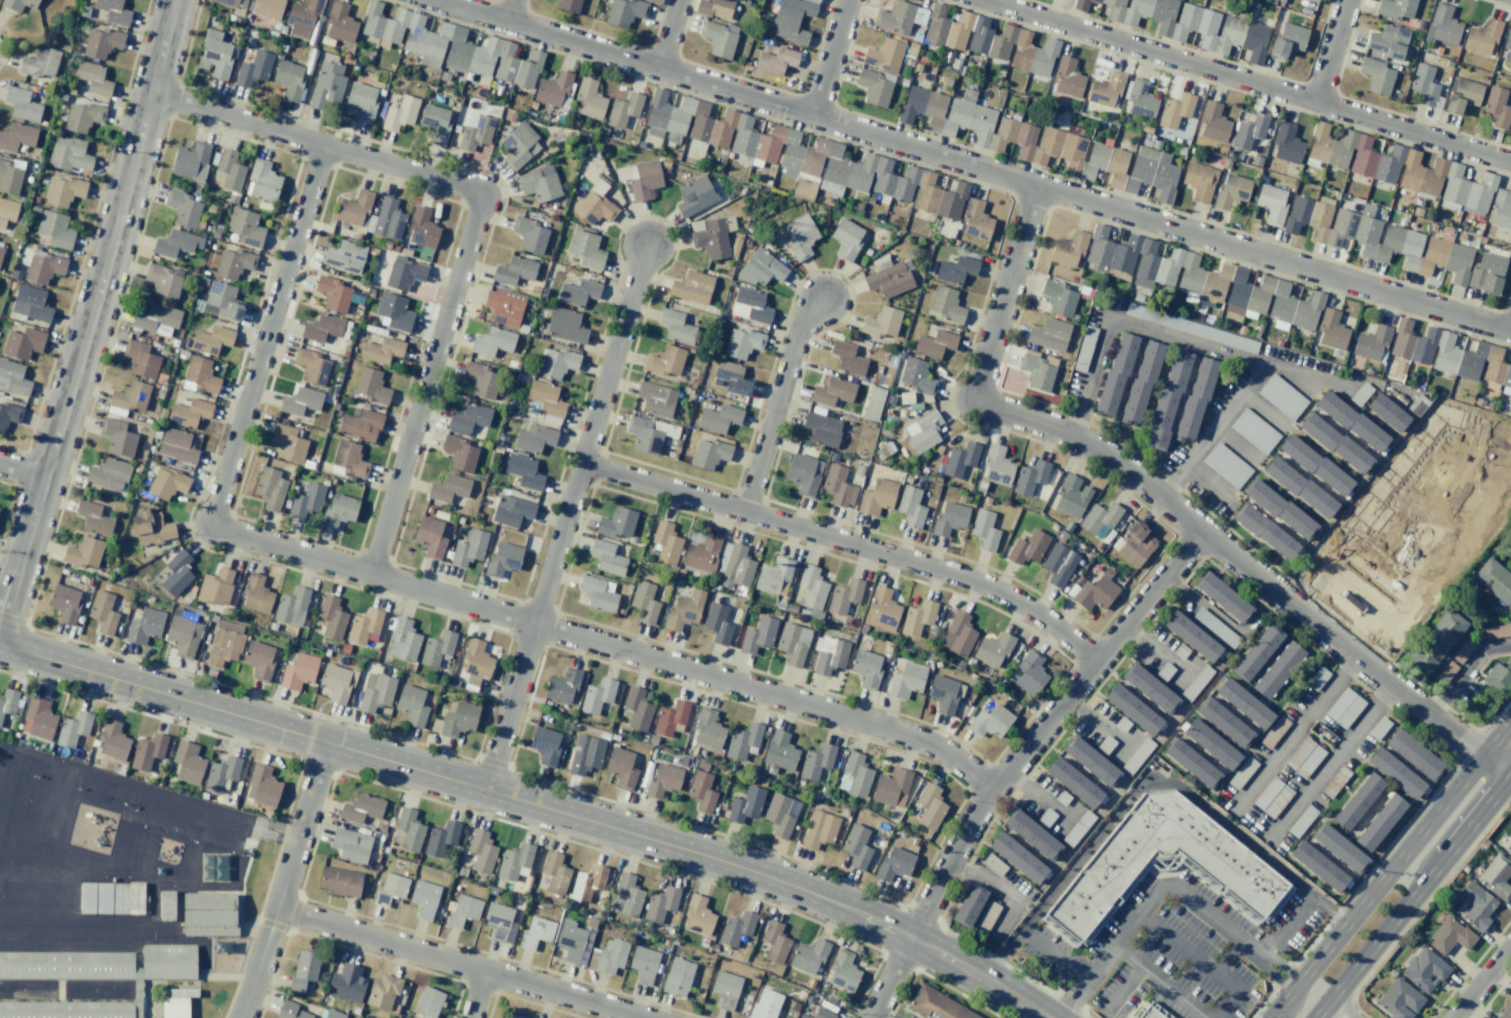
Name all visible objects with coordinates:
building: (656, 0)
building: (1313, 0)
building: (230, 3)
building: (18, 4)
building: (568, 5)
building: (267, 8)
building: (715, 8)
building: (1396, 8)
building: (113, 11)
road: (510, 11)
building: (624, 12)
building: (302, 17)
building: (899, 17)
building: (792, 19)
building: (371, 20)
building: (340, 23)
building: (1189, 24)
building: (1442, 25)
building: (414, 34)
road: (670, 35)
building: (1482, 36)
building: (718, 38)
building: (990, 40)
building: (1287, 40)
building: (1387, 42)
building: (101, 43)
building: (1507, 45)
building: (458, 49)
road: (1333, 52)
building: (214, 55)
building: (884, 55)
road: (832, 59)
building: (776, 61)
building: (40, 62)
building: (505, 62)
building: (253, 69)
building: (1376, 75)
building: (93, 78)
building: (1067, 78)
road: (1244, 82)
building: (1424, 84)
building: (327, 85)
building: (873, 87)
building: (554, 89)
building: (1105, 89)
building: (1461, 95)
building: (589, 99)
building: (1139, 99)
building: (361, 101)
building: (22, 104)
building: (1496, 106)
building: (623, 109)
building: (1175, 110)
building: (656, 112)
building: (400, 113)
building: (82, 117)
building: (435, 122)
building: (1213, 122)
building: (698, 124)
building: (475, 131)
building: (1248, 132)
building: (17, 136)
building: (743, 136)
building: (1038, 141)
road: (317, 144)
building: (1287, 144)
building: (518, 145)
building: (792, 152)
building: (69, 154)
building: (190, 161)
building: (834, 165)
road: (971, 167)
building: (1400, 168)
building: (228, 171)
building: (640, 178)
building: (263, 180)
building: (1199, 181)
building: (539, 183)
building: (64, 191)
building: (1231, 191)
building: (926, 193)
building: (694, 195)
building: (1271, 203)
building: (594, 207)
building: (183, 208)
building: (1500, 210)
building: (7, 211)
building: (351, 214)
building: (976, 220)
building: (245, 227)
building: (422, 228)
building: (55, 229)
building: (529, 234)
building: (800, 237)
building: (711, 238)
building: (846, 238)
building: (1378, 238)
building: (176, 243)
building: (586, 249)
building: (1068, 249)
building: (0, 251)
building: (345, 256)
building: (233, 264)
building: (43, 267)
building: (761, 268)
building: (513, 270)
building: (955, 270)
building: (404, 273)
building: (1486, 273)
building: (888, 278)
building: (1202, 280)
building: (164, 281)
building: (692, 287)
building: (577, 292)
building: (332, 293)
building: (1059, 298)
building: (221, 301)
building: (30, 303)
building: (946, 304)
building: (750, 305)
building: (504, 306)
building: (393, 312)
road: (93, 315)
building: (156, 319)
building: (881, 322)
building: (565, 325)
building: (676, 326)
building: (322, 327)
building: (1331, 330)
road: (270, 331)
building: (1049, 334)
road: (1169, 336)
building: (211, 340)
building: (492, 341)
building: (22, 343)
building: (742, 343)
building: (1371, 343)
building: (934, 344)
building: (381, 351)
building: (1450, 355)
building: (847, 358)
building: (140, 359)
building: (665, 361)
building: (556, 362)
building: (311, 367)
building: (1115, 373)
building: (915, 375)
building: (13, 378)
building: (730, 378)
building: (481, 380)
building: (1141, 382)
building: (371, 385)
road: (426, 387)
building: (832, 391)
building: (1281, 396)
building: (128, 398)
building: (546, 398)
building: (656, 399)
building: (1167, 399)
building: (1195, 399)
building: (300, 401)
road: (778, 402)
building: (873, 403)
building: (189, 412)
building: (1387, 412)
building: (8, 414)
building: (468, 418)
building: (719, 418)
building: (1351, 421)
building: (359, 424)
building: (822, 429)
road: (1211, 429)
building: (922, 432)
building: (117, 437)
building: (534, 438)
building: (287, 443)
building: (1335, 443)
building: (176, 445)
building: (459, 453)
building: (709, 454)
building: (348, 459)
building: (960, 459)
building: (1315, 464)
building: (997, 465)
road: (22, 471)
building: (524, 471)
building: (108, 474)
building: (802, 474)
building: (1030, 477)
building: (167, 482)
building: (838, 486)
building: (1299, 487)
building: (269, 488)
building: (448, 488)
road: (1161, 495)
building: (1071, 496)
building: (876, 497)
building: (306, 501)
building: (910, 506)
building: (1279, 508)
building: (338, 511)
building: (511, 511)
road: (568, 517)
building: (93, 518)
building: (949, 518)
building: (1100, 519)
building: (616, 523)
building: (149, 527)
building: (984, 530)
building: (1265, 531)
building: (429, 537)
building: (665, 542)
building: (1135, 543)
road: (850, 544)
building: (469, 548)
building: (1027, 548)
building: (83, 552)
building: (701, 553)
building: (607, 557)
building: (502, 559)
building: (1058, 564)
building: (734, 566)
building: (176, 573)
building: (773, 574)
building: (1494, 581)
building: (215, 586)
building: (812, 587)
building: (1094, 591)
building: (256, 594)
building: (598, 594)
building: (844, 595)
building: (1222, 597)
building: (644, 601)
building: (64, 603)
building: (291, 607)
building: (684, 610)
building: (881, 610)
building: (102, 612)
building: (331, 617)
building: (917, 618)
road: (1226, 621)
building: (717, 623)
building: (144, 626)
building: (1215, 626)
building: (364, 627)
building: (958, 634)
building: (758, 635)
building: (1190, 635)
building: (182, 636)
building: (402, 640)
building: (1436, 640)
building: (793, 643)
road: (607, 646)
building: (436, 648)
road: (1156, 648)
building: (992, 649)
building: (1180, 650)
building: (1256, 652)
building: (829, 654)
building: (258, 660)
building: (866, 668)
building: (1278, 670)
building: (1164, 671)
building: (298, 672)
road: (1183, 672)
building: (1030, 673)
building: (1498, 677)
building: (1316, 678)
building: (906, 680)
building: (336, 682)
building: (1196, 682)
building: (562, 686)
building: (1149, 687)
building: (376, 692)
building: (944, 694)
building: (597, 695)
building: (7, 701)
building: (1243, 702)
building: (1339, 703)
building: (411, 705)
building: (1132, 708)
building: (637, 711)
building: (1350, 712)
building: (670, 717)
building: (38, 718)
building: (458, 718)
building: (990, 721)
building: (1223, 721)
road: (1099, 722)
building: (1122, 724)
building: (72, 727)
building: (1378, 728)
building: (708, 729)
building: (1274, 731)
road: (1297, 732)
building: (111, 741)
building: (743, 741)
building: (1210, 743)
building: (1105, 744)
building: (545, 745)
road: (1124, 745)
building: (780, 751)
building: (146, 752)
building: (1299, 752)
building: (585, 754)
building: (1415, 754)
building: (1137, 755)
road: (1502, 756)
building: (1089, 760)
building: (816, 761)
road: (1016, 761)
building: (1191, 761)
building: (1309, 761)
building: (187, 762)
road: (1330, 762)
building: (621, 767)
building: (1243, 772)
building: (1395, 773)
building: (221, 774)
building: (856, 774)
building: (663, 780)
building: (1072, 781)
building: (1335, 781)
road: (1145, 783)
building: (263, 785)
building: (891, 787)
building: (1425, 790)
building: (701, 791)
building: (1266, 792)
building: (1062, 797)
building: (1357, 800)
building: (1277, 801)
road: (533, 805)
building: (745, 805)
building: (930, 806)
building: (360, 809)
building: (778, 815)
parking lot: (191, 817)
road: (205, 817)
building: (1045, 817)
building: (1302, 820)
building: (1380, 821)
building: (1078, 828)
building: (408, 829)
building: (819, 830)
building: (1031, 834)
building: (1510, 835)
building: (440, 838)
building: (350, 844)
building: (856, 846)
building: (1339, 847)
building: (481, 851)
building: (1016, 857)
building: (1510, 857)
building: (513, 860)
building: (893, 864)
building: (993, 864)
building: (1318, 865)
building: (554, 872)
building: (1234, 874)
building: (1496, 876)
road: (283, 881)
building: (339, 881)
building: (1348, 882)
building: (586, 883)
road: (1160, 885)
road: (1378, 886)
building: (389, 889)
road: (1006, 892)
road: (1416, 895)
building: (625, 897)
building: (136, 898)
building: (423, 898)
building: (88, 899)
building: (104, 899)
building: (121, 899)
building: (659, 904)
building: (967, 904)
building: (1477, 905)
building: (167, 906)
building: (463, 911)
building: (209, 914)
building: (697, 916)
building: (986, 917)
building: (497, 920)
building: (735, 928)
building: (536, 931)
building: (1450, 936)
building: (575, 940)
building: (773, 941)
building: (611, 956)
building: (808, 956)
road: (1228, 957)
road: (1202, 961)
road: (455, 963)
building: (642, 964)
road: (1283, 965)
building: (1425, 969)
building: (303, 970)
building: (842, 971)
building: (678, 977)
road: (1272, 977)
building: (95, 978)
road: (1158, 982)
road: (1481, 982)
building: (345, 983)
building: (725, 988)
road: (1123, 990)
building: (382, 991)
building: (179, 993)
road: (478, 994)
building: (1399, 999)
road: (1074, 1000)
building: (427, 1002)
building: (764, 1005)
building: (934, 1006)
building: (175, 1008)
building: (289, 1010)
building: (1505, 1011)
road: (1332, 1012)
building: (821, 1013)
building: (332, 1014)
building: (1149, 1014)
building: (511, 1015)
building: (803, 1016)

